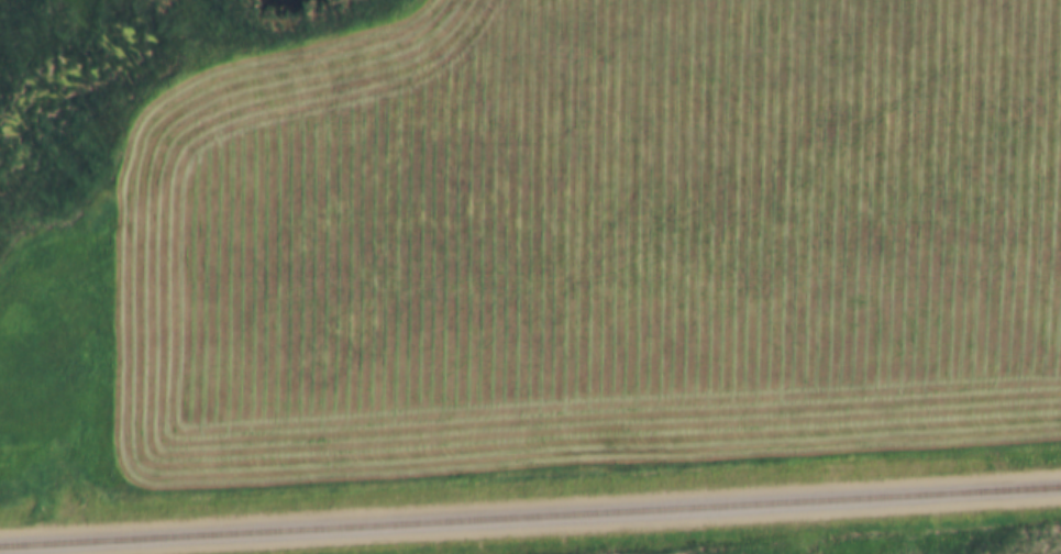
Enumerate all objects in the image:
railway: (530, 519)

